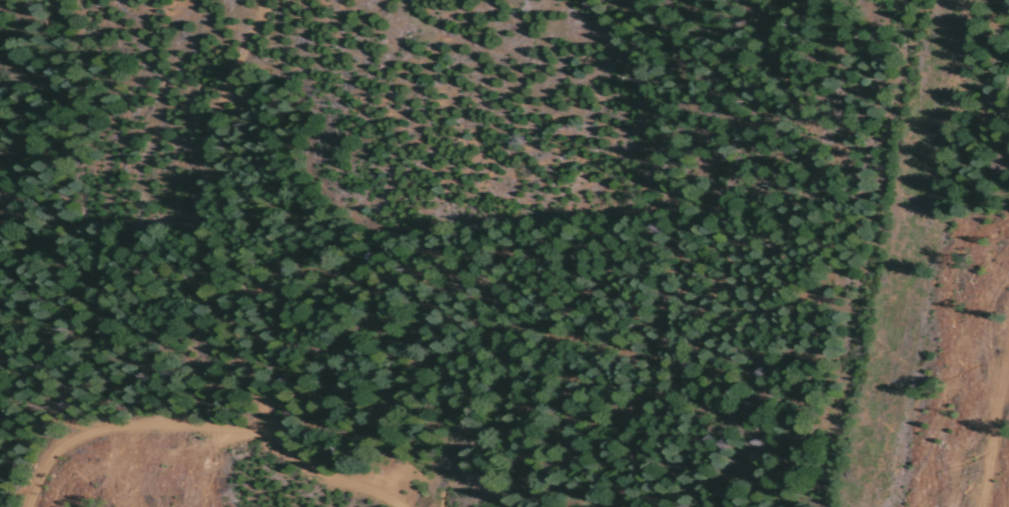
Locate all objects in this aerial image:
road: (871, 252)
road: (214, 353)

